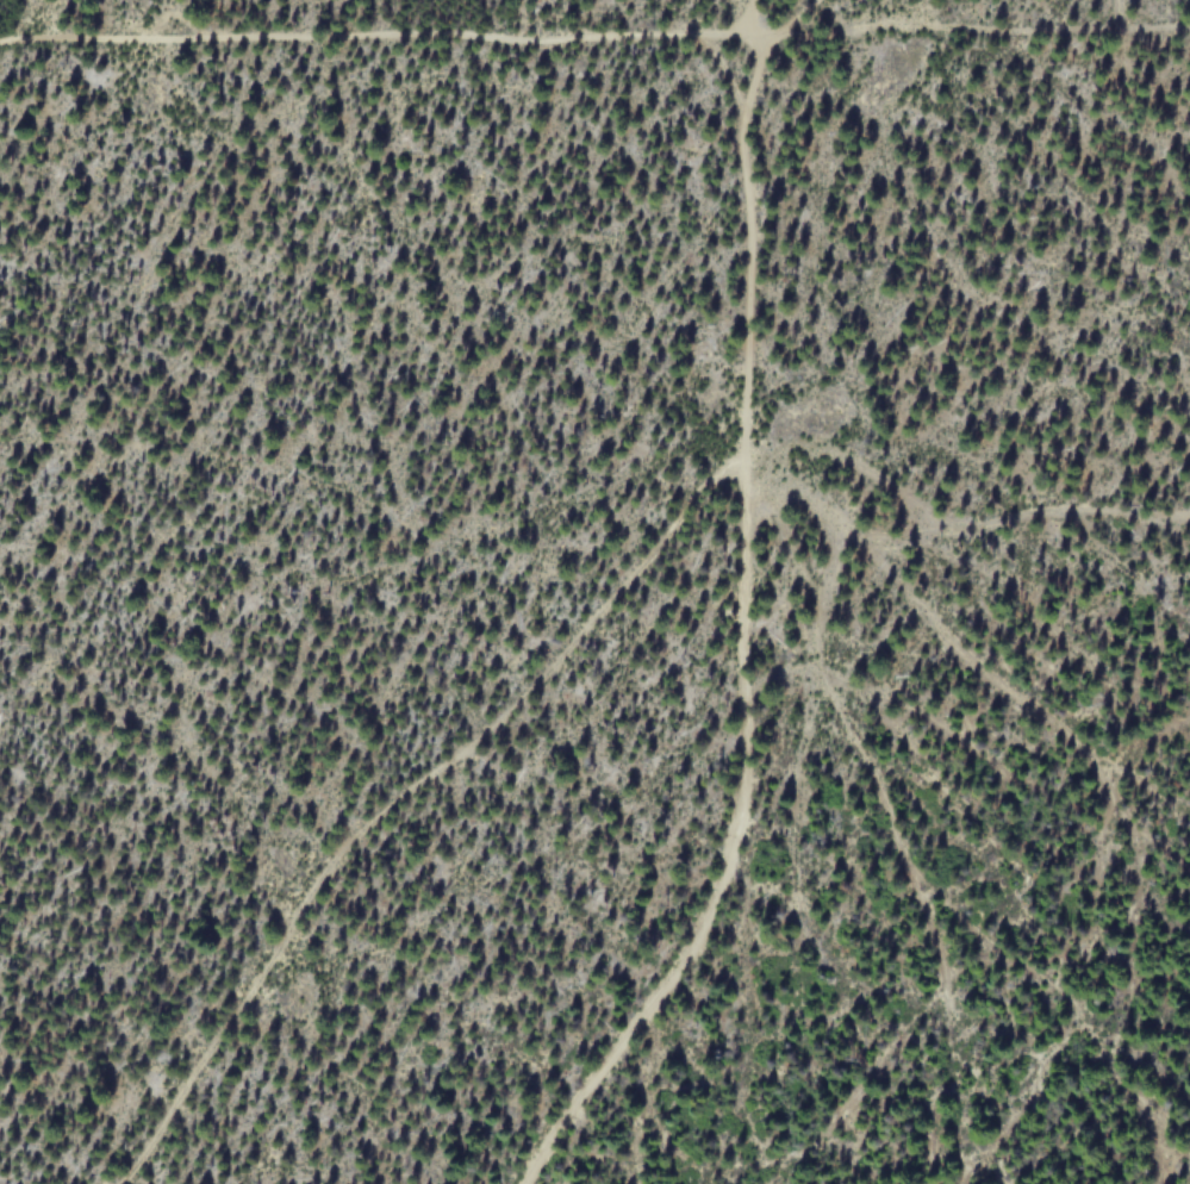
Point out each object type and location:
road: (755, 19)
road: (386, 38)
road: (741, 612)

